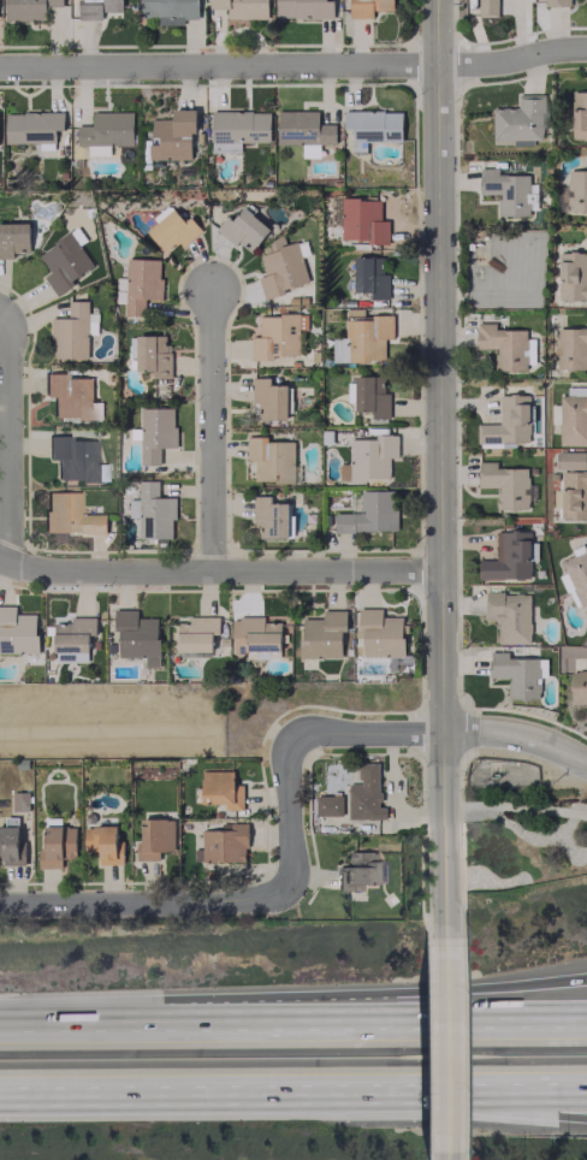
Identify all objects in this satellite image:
building: (556, 2)
building: (97, 7)
building: (369, 7)
building: (486, 7)
building: (26, 8)
building: (242, 8)
building: (303, 8)
building: (168, 10)
road: (293, 64)
building: (520, 119)
building: (31, 126)
building: (372, 126)
building: (237, 129)
building: (303, 130)
building: (105, 131)
building: (172, 135)
building: (509, 190)
building: (576, 190)
building: (362, 220)
building: (242, 229)
building: (172, 230)
building: (13, 238)
building: (65, 260)
building: (280, 270)
building: (571, 276)
building: (369, 277)
building: (141, 284)
road: (5, 307)
building: (71, 331)
building: (277, 335)
building: (362, 338)
building: (505, 345)
building: (570, 348)
building: (149, 354)
building: (70, 396)
building: (370, 396)
building: (269, 398)
building: (573, 415)
building: (508, 421)
road: (211, 430)
building: (155, 432)
road: (8, 434)
building: (71, 457)
building: (368, 457)
building: (271, 460)
building: (569, 460)
road: (438, 468)
building: (504, 484)
building: (571, 495)
building: (152, 510)
building: (369, 513)
building: (69, 514)
building: (271, 517)
building: (508, 556)
road: (218, 569)
building: (575, 575)
building: (509, 615)
building: (17, 631)
building: (196, 633)
building: (380, 633)
building: (255, 634)
building: (322, 634)
building: (136, 637)
building: (72, 638)
building: (517, 674)
building: (577, 686)
road: (447, 730)
building: (220, 789)
building: (364, 793)
building: (19, 800)
building: (328, 805)
road: (514, 807)
road: (286, 809)
building: (154, 838)
building: (102, 844)
building: (224, 844)
building: (57, 845)
building: (11, 846)
building: (355, 870)
road: (141, 900)
road: (357, 1000)
road: (357, 1016)
road: (64, 1017)
road: (445, 1044)
road: (172, 1093)
road: (466, 1095)
road: (466, 1106)
road: (446, 1155)

